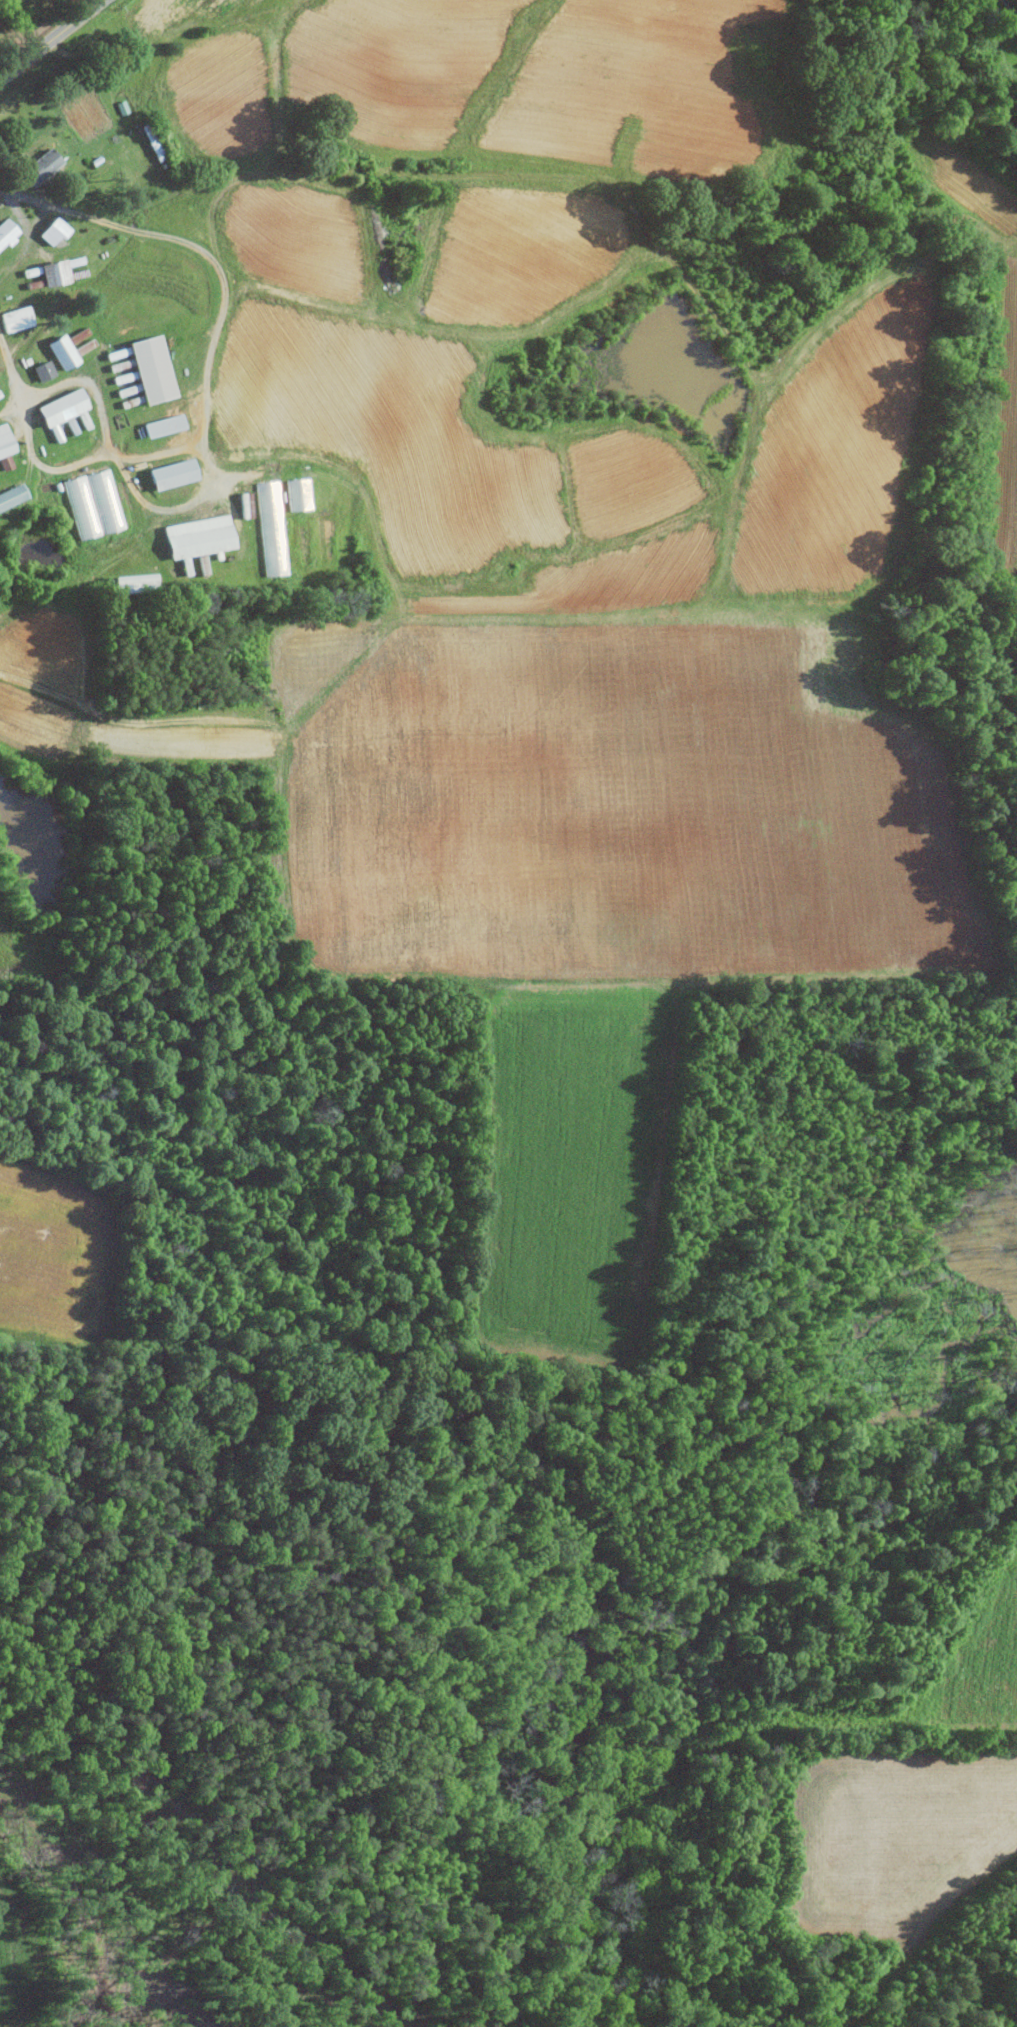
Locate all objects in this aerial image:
road: (1008, 7)
road: (51, 40)
building: (39, 166)
road: (38, 204)
building: (52, 230)
building: (7, 232)
road: (26, 232)
building: (52, 271)
building: (15, 318)
building: (77, 335)
building: (61, 351)
building: (150, 368)
building: (42, 370)
building: (0, 395)
road: (205, 406)
building: (59, 409)
building: (163, 424)
building: (5, 441)
building: (171, 473)
building: (12, 495)
building: (271, 527)
building: (198, 536)

